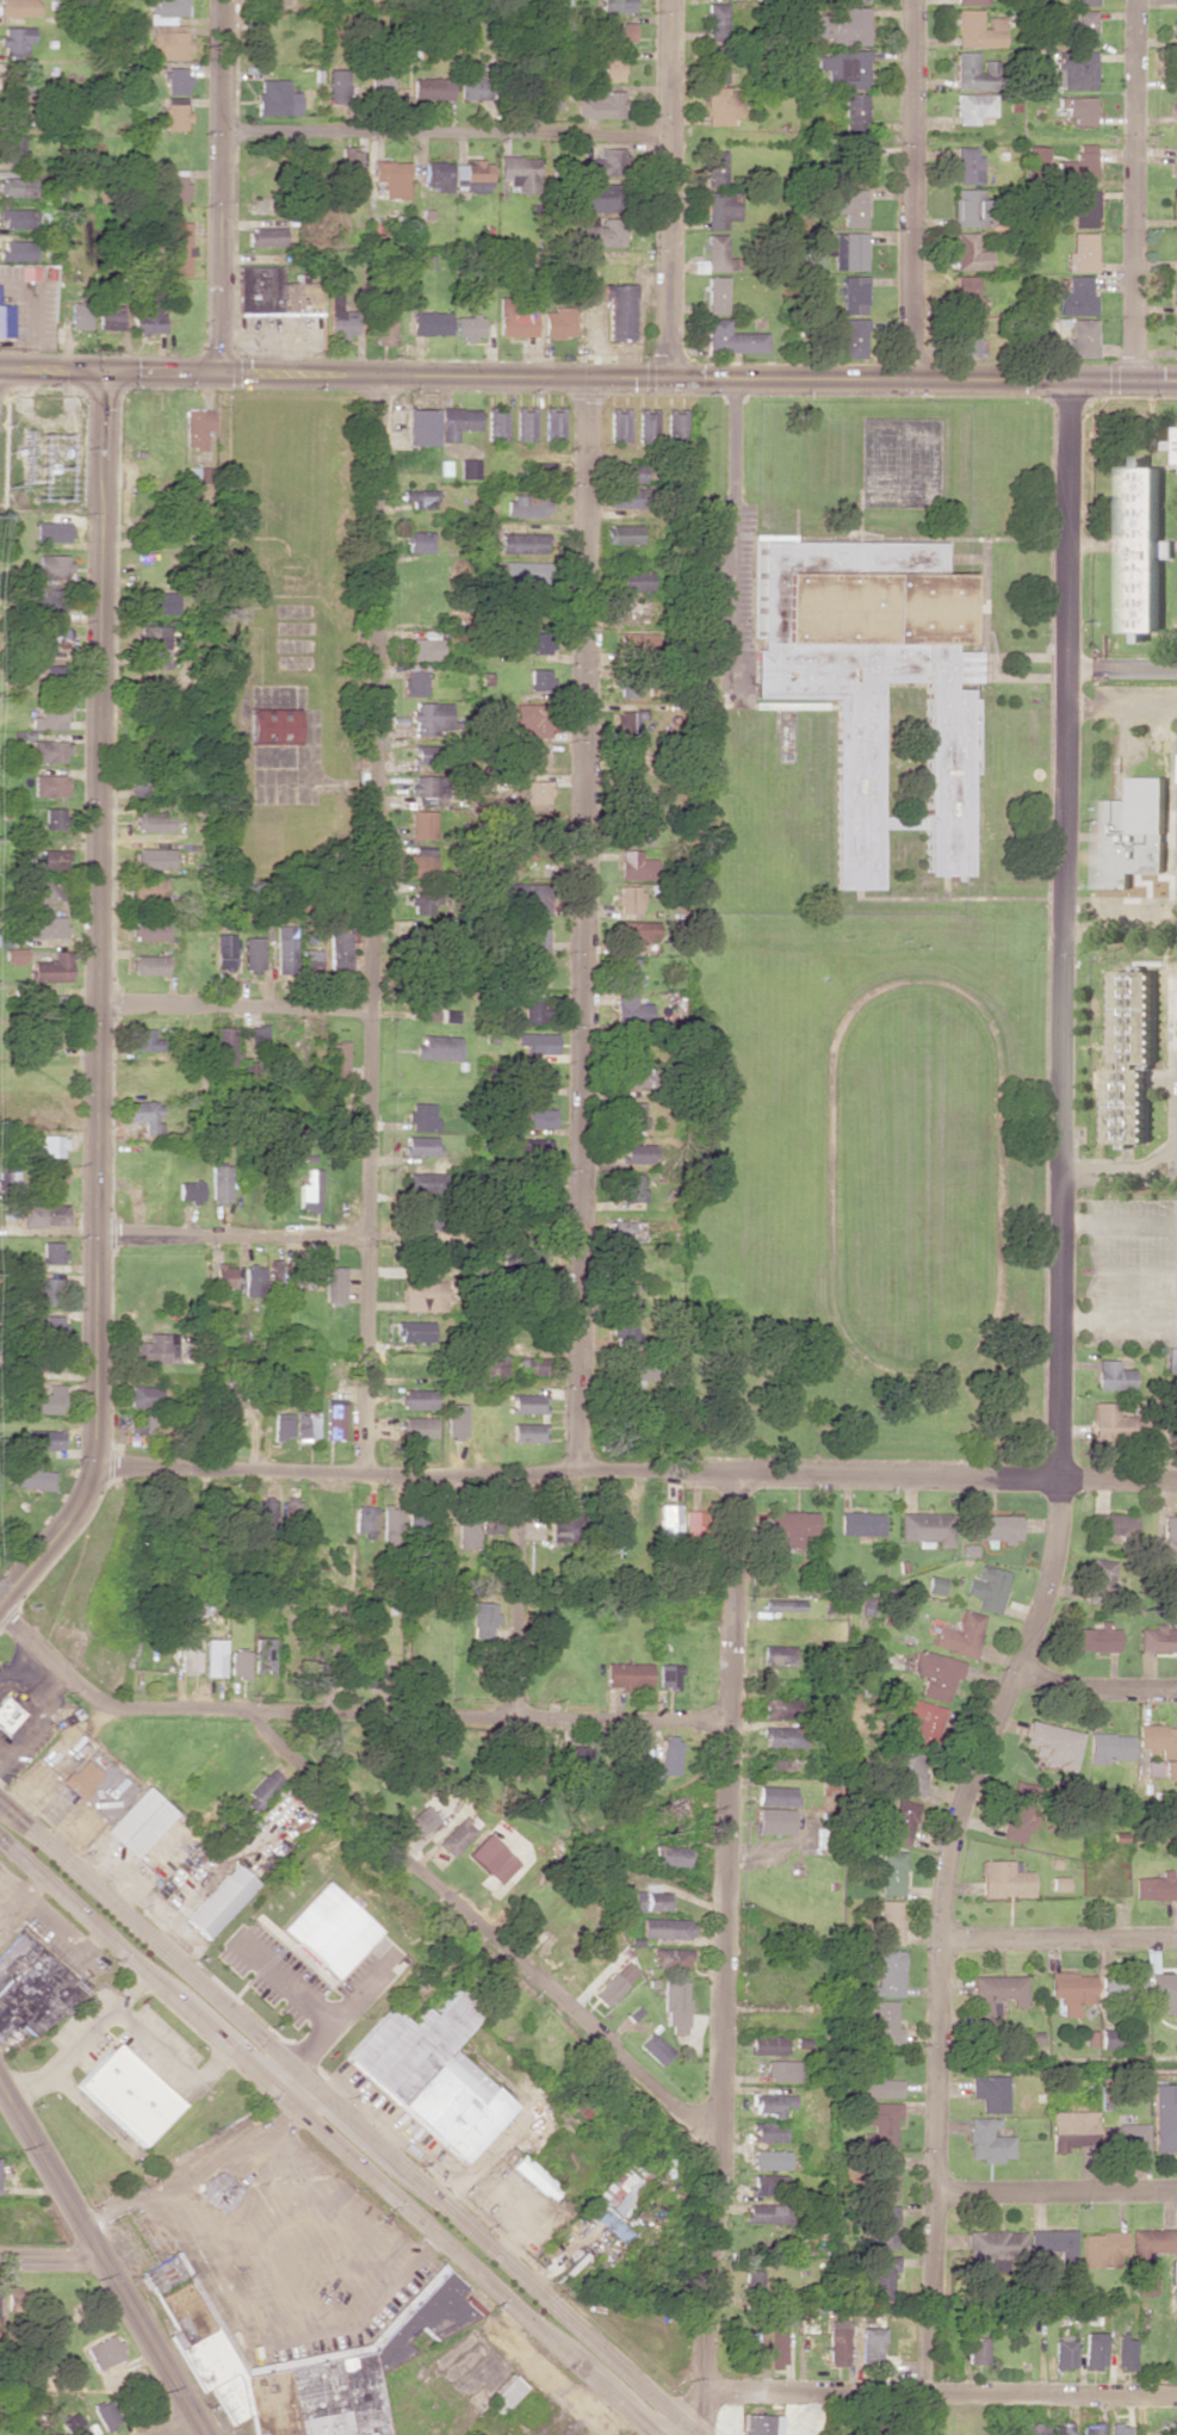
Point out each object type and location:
building: (854, 0)
building: (968, 1)
building: (1084, 2)
building: (1175, 2)
building: (617, 5)
building: (17, 7)
building: (165, 11)
building: (718, 20)
building: (1082, 24)
building: (843, 25)
building: (977, 30)
building: (1176, 30)
building: (617, 32)
building: (14, 39)
building: (167, 42)
building: (717, 63)
building: (612, 68)
building: (843, 69)
building: (1073, 69)
building: (1175, 69)
building: (968, 72)
building: (174, 80)
building: (380, 80)
building: (473, 81)
building: (337, 86)
building: (432, 88)
building: (275, 98)
building: (601, 105)
building: (721, 105)
building: (972, 106)
building: (1175, 107)
building: (1077, 109)
building: (854, 111)
building: (16, 112)
building: (174, 117)
road: (445, 134)
building: (12, 147)
building: (1035, 153)
building: (605, 162)
building: (348, 163)
building: (967, 165)
building: (1077, 165)
building: (718, 168)
building: (1176, 169)
building: (519, 173)
building: (438, 175)
building: (471, 175)
building: (391, 178)
building: (17, 186)
building: (172, 187)
road: (219, 187)
road: (669, 188)
road: (915, 190)
road: (1133, 191)
building: (595, 197)
building: (850, 205)
building: (968, 207)
building: (1083, 207)
building: (1175, 207)
building: (721, 209)
building: (16, 218)
building: (599, 231)
building: (265, 236)
building: (179, 248)
building: (847, 249)
building: (17, 250)
building: (1082, 252)
building: (970, 253)
building: (719, 254)
building: (1175, 264)
building: (27, 272)
building: (274, 292)
building: (966, 293)
building: (716, 295)
building: (853, 295)
building: (1175, 295)
building: (1076, 297)
building: (144, 309)
building: (619, 311)
building: (79, 316)
building: (516, 316)
building: (109, 317)
building: (340, 317)
building: (6, 320)
building: (432, 322)
building: (558, 322)
building: (467, 326)
building: (383, 329)
building: (853, 337)
building: (968, 337)
building: (1082, 337)
building: (1175, 337)
building: (732, 339)
road: (48, 373)
traffic signals: (95, 373)
road: (581, 377)
road: (1122, 380)
building: (456, 421)
building: (495, 423)
building: (524, 423)
building: (552, 423)
building: (617, 425)
building: (645, 425)
building: (674, 425)
building: (197, 426)
building: (420, 427)
power substation: (45, 451)
building: (467, 469)
building: (533, 472)
building: (625, 472)
building: (417, 497)
building: (624, 497)
building: (526, 506)
road: (732, 516)
building: (51, 531)
building: (621, 534)
building: (417, 541)
building: (520, 543)
building: (1142, 549)
building: (51, 566)
building: (519, 571)
building: (634, 580)
building: (55, 597)
building: (156, 602)
building: (537, 640)
building: (151, 646)
building: (425, 646)
building: (637, 648)
road: (1121, 671)
building: (52, 677)
building: (875, 677)
building: (537, 679)
building: (413, 682)
building: (628, 683)
road: (1121, 704)
building: (50, 715)
building: (428, 717)
building: (627, 721)
building: (271, 726)
building: (49, 751)
building: (420, 755)
building: (627, 758)
building: (148, 783)
building: (52, 785)
building: (421, 785)
building: (626, 793)
building: (535, 794)
building: (55, 818)
building: (153, 820)
building: (421, 824)
building: (633, 830)
building: (1133, 834)
building: (153, 857)
building: (54, 859)
building: (417, 862)
building: (634, 865)
building: (147, 886)
building: (45, 892)
building: (524, 897)
building: (628, 899)
road: (371, 923)
road: (586, 925)
building: (44, 927)
road: (1064, 929)
building: (148, 930)
building: (634, 933)
building: (534, 935)
building: (283, 949)
building: (337, 949)
building: (222, 950)
building: (250, 953)
building: (308, 958)
building: (14, 965)
building: (148, 965)
building: (54, 968)
building: (625, 969)
road: (92, 996)
building: (45, 1005)
road: (230, 1005)
building: (532, 1009)
building: (630, 1009)
building: (258, 1035)
building: (45, 1036)
building: (143, 1040)
building: (535, 1042)
building: (223, 1045)
building: (436, 1047)
building: (1132, 1055)
building: (336, 1070)
building: (541, 1076)
building: (637, 1076)
building: (144, 1115)
building: (632, 1115)
building: (421, 1116)
building: (537, 1117)
building: (420, 1145)
building: (50, 1146)
building: (634, 1153)
road: (1119, 1177)
building: (51, 1178)
building: (419, 1181)
building: (221, 1183)
building: (630, 1186)
building: (190, 1191)
building: (310, 1191)
building: (42, 1214)
building: (622, 1229)
road: (231, 1234)
building: (52, 1251)
building: (421, 1262)
building: (223, 1276)
building: (252, 1280)
building: (334, 1284)
building: (43, 1290)
building: (423, 1295)
building: (625, 1296)
building: (52, 1326)
building: (414, 1331)
building: (625, 1332)
building: (157, 1349)
building: (45, 1359)
building: (1171, 1359)
building: (534, 1365)
building: (494, 1367)
building: (1114, 1375)
building: (144, 1395)
building: (49, 1399)
building: (419, 1399)
building: (528, 1402)
building: (222, 1418)
building: (334, 1420)
building: (456, 1421)
building: (1110, 1421)
building: (138, 1424)
building: (281, 1425)
building: (305, 1425)
building: (417, 1426)
building: (527, 1432)
building: (43, 1439)
road: (571, 1474)
building: (29, 1477)
road: (1117, 1479)
building: (291, 1510)
building: (265, 1512)
building: (391, 1518)
building: (364, 1519)
building: (559, 1522)
building: (668, 1522)
building: (614, 1523)
building: (861, 1523)
building: (1117, 1523)
building: (489, 1525)
building: (693, 1525)
building: (792, 1525)
building: (993, 1526)
building: (1169, 1528)
building: (925, 1529)
building: (1176, 1561)
building: (1101, 1576)
building: (987, 1587)
road: (519, 1596)
building: (783, 1604)
building: (483, 1619)
building: (959, 1634)
building: (1096, 1637)
building: (1158, 1637)
building: (188, 1653)
building: (264, 1653)
building: (779, 1654)
building: (213, 1658)
building: (239, 1663)
building: (363, 1669)
building: (311, 1674)
building: (628, 1674)
building: (935, 1674)
building: (668, 1675)
road: (1097, 1689)
building: (783, 1709)
road: (348, 1712)
building: (7, 1714)
building: (917, 1723)
building: (783, 1736)
building: (1052, 1743)
building: (1160, 1746)
building: (1108, 1747)
building: (577, 1756)
building: (531, 1759)
building: (667, 1759)
building: (906, 1772)
building: (81, 1778)
building: (262, 1790)
building: (775, 1795)
building: (1018, 1813)
building: (422, 1820)
building: (774, 1820)
building: (138, 1821)
building: (902, 1821)
building: (457, 1836)
building: (674, 1854)
building: (491, 1858)
building: (893, 1872)
building: (1005, 1878)
building: (1060, 1883)
building: (1157, 1886)
building: (219, 1901)
building: (652, 1901)
building: (890, 1922)
building: (668, 1928)
road: (482, 1929)
building: (327, 1931)
road: (1060, 1938)
road: (943, 1946)
road: (724, 1954)
building: (673, 1958)
building: (891, 1974)
building: (615, 1982)
building: (32, 1987)
building: (1001, 1988)
building: (1123, 1989)
building: (1073, 1990)
building: (1165, 1991)
building: (676, 2002)
building: (887, 2022)
building: (769, 2044)
building: (655, 2047)
building: (783, 2070)
building: (430, 2074)
building: (873, 2080)
road: (349, 2092)
building: (991, 2092)
building: (128, 2094)
building: (773, 2103)
road: (373, 2114)
building: (1164, 2117)
road: (346, 2118)
building: (879, 2123)
building: (1072, 2129)
building: (768, 2131)
road: (327, 2135)
building: (1125, 2137)
building: (989, 2140)
road: (415, 2151)
road: (487, 2152)
building: (770, 2160)
road: (48, 2175)
building: (885, 2175)
building: (534, 2177)
building: (769, 2185)
building: (618, 2189)
road: (1057, 2189)
building: (218, 2191)
building: (764, 2213)
road: (529, 2218)
building: (614, 2226)
building: (884, 2226)
building: (996, 2244)
building: (1055, 2244)
building: (1150, 2244)
building: (1102, 2249)
road: (559, 2256)
road: (48, 2260)
building: (163, 2273)
building: (884, 2274)
building: (751, 2280)
building: (1142, 2285)
building: (837, 2335)
building: (869, 2344)
road: (145, 2346)
building: (105, 2350)
building: (1094, 2350)
building: (898, 2352)
building: (977, 2352)
building: (1064, 2352)
building: (1123, 2353)
building: (309, 2363)
road: (938, 2388)
building: (504, 2396)
traffic signals: (701, 2411)
building: (105, 2414)
building: (760, 2424)
road: (171, 2425)
building: (1060, 2428)
building: (32, 2429)
building: (1034, 2429)
building: (1090, 2429)

